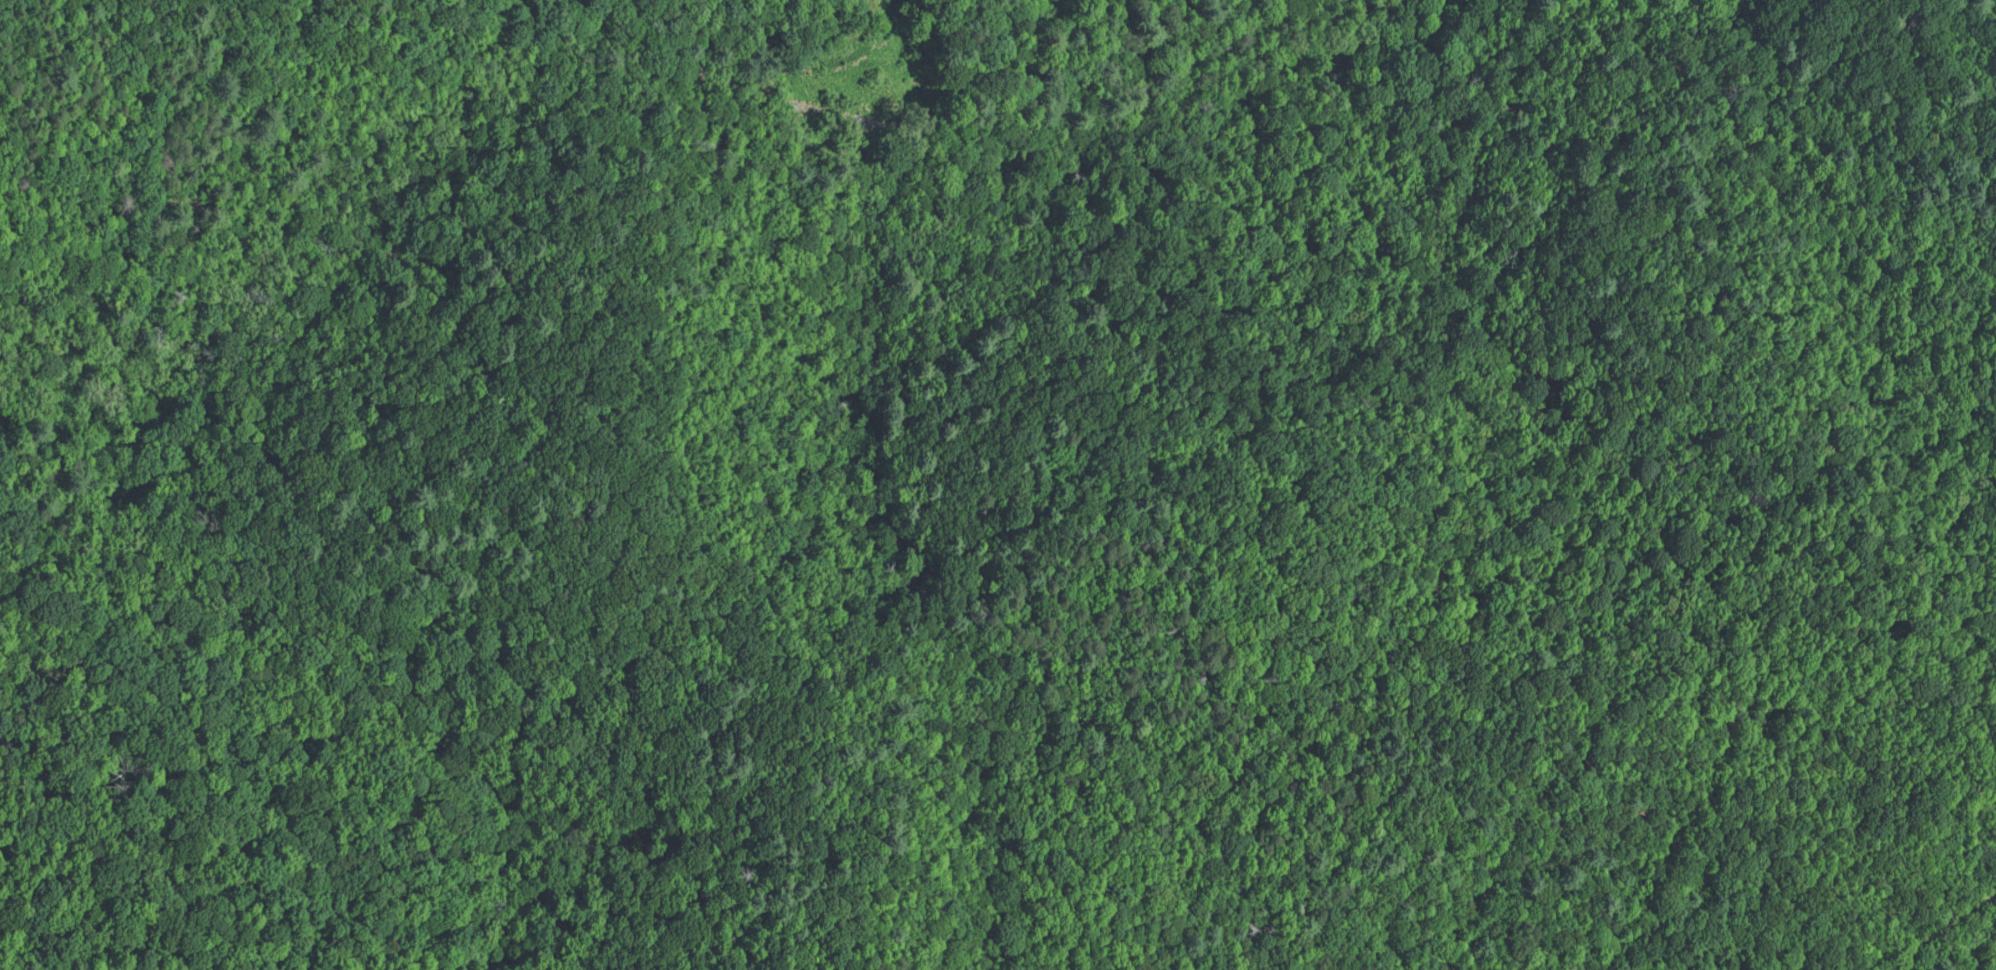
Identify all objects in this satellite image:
road: (1942, 927)

